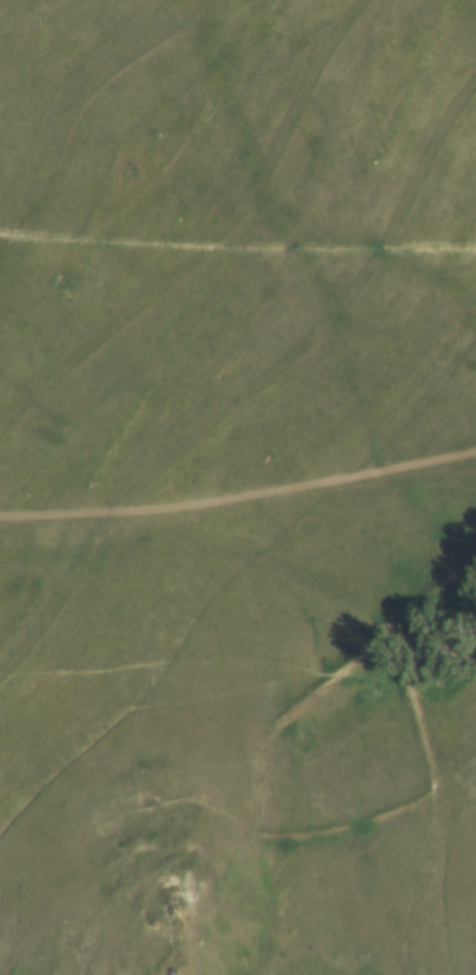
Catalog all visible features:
road: (237, 454)

